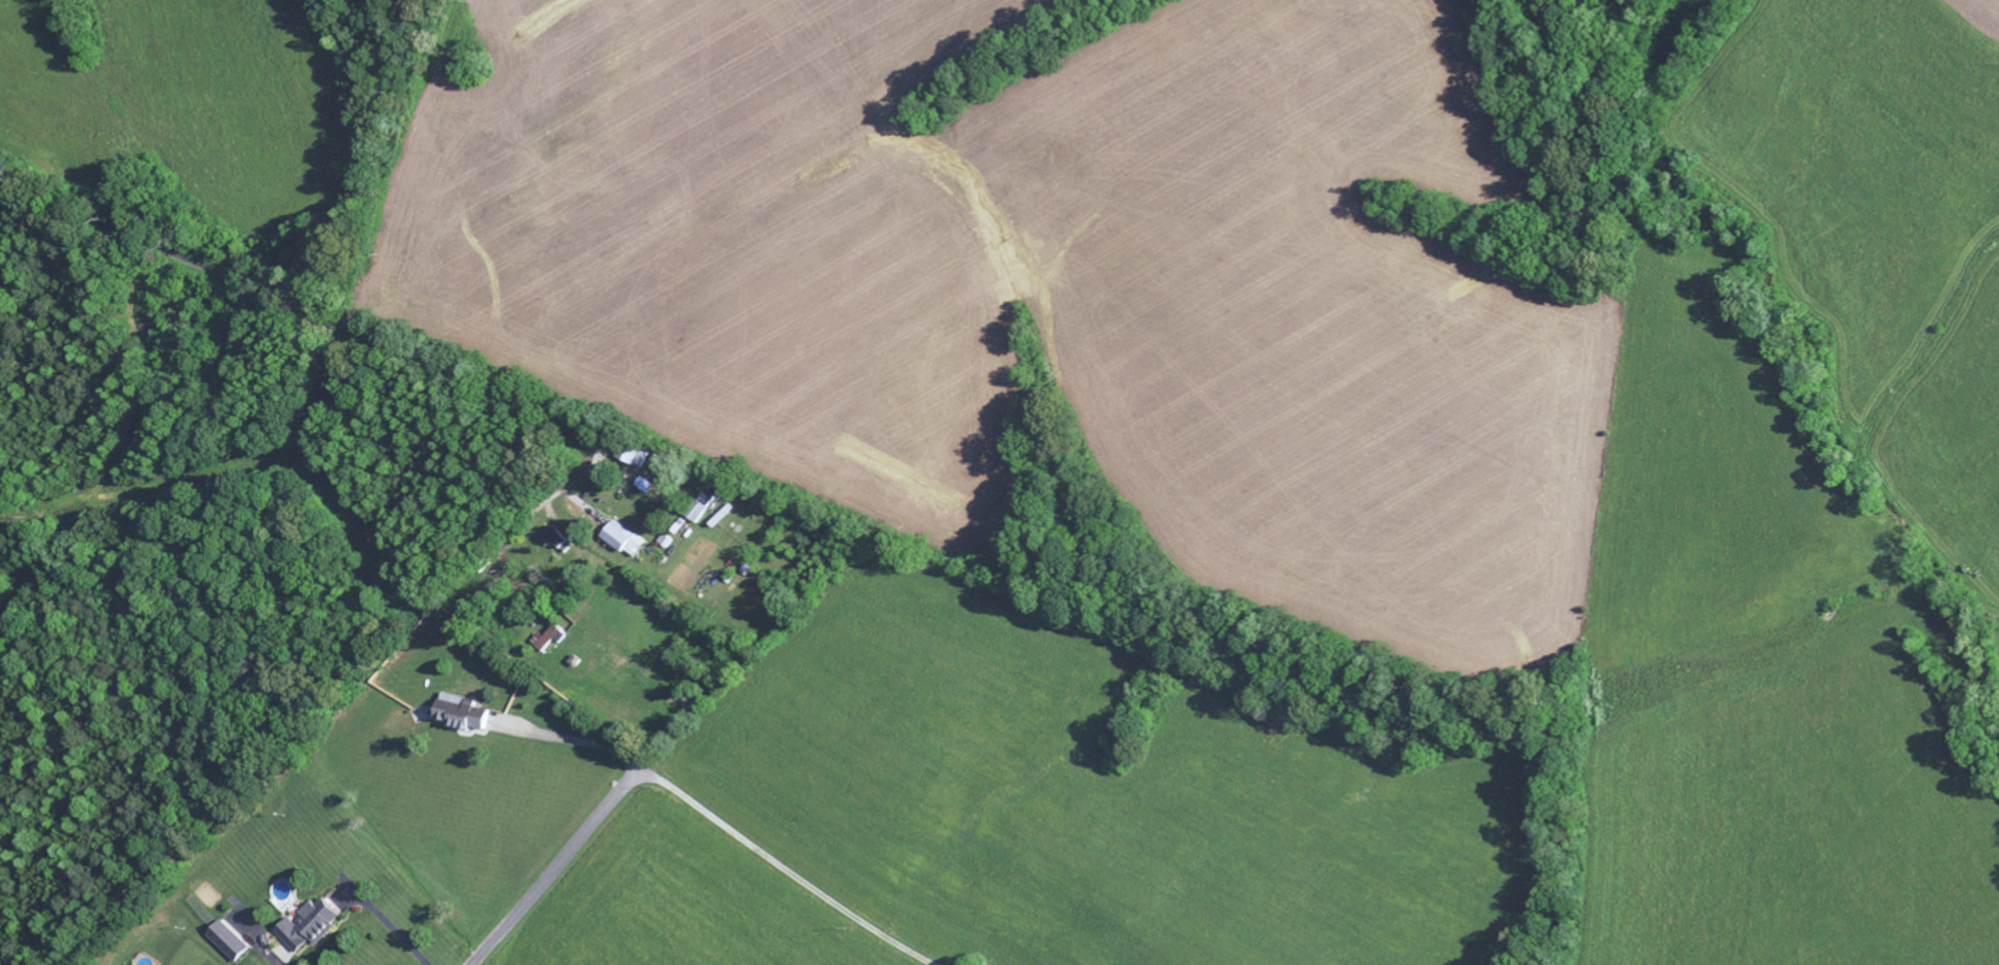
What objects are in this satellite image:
road: (359, 333)
building: (630, 457)
building: (644, 487)
building: (696, 511)
building: (553, 540)
building: (623, 542)
building: (546, 640)
building: (460, 715)
road: (555, 866)
building: (307, 929)
building: (227, 944)

